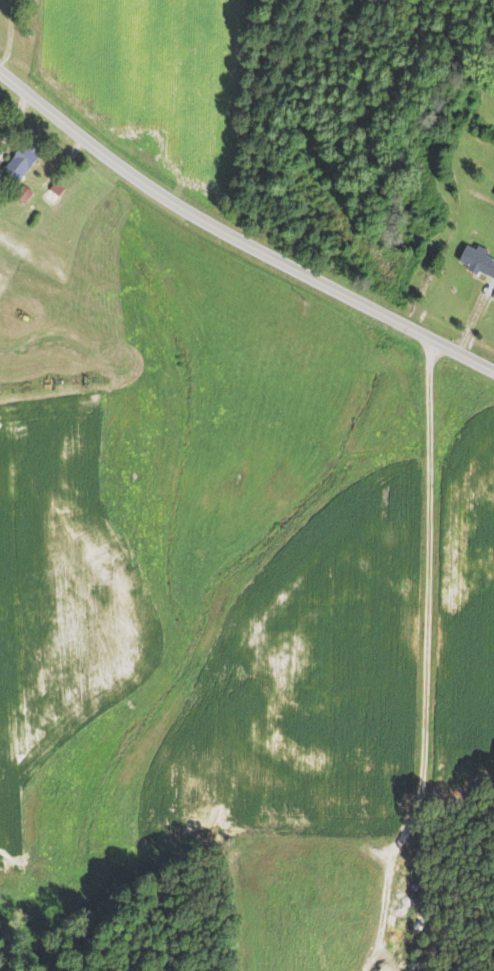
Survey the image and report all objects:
road: (9, 33)
crop: (150, 79)
road: (13, 119)
building: (18, 164)
road: (47, 181)
building: (53, 192)
building: (493, 193)
building: (23, 194)
road: (236, 239)
building: (476, 259)
building: (492, 271)
building: (491, 293)
road: (475, 316)
crop: (61, 592)
crop: (466, 613)
road: (426, 659)
crop: (307, 685)

